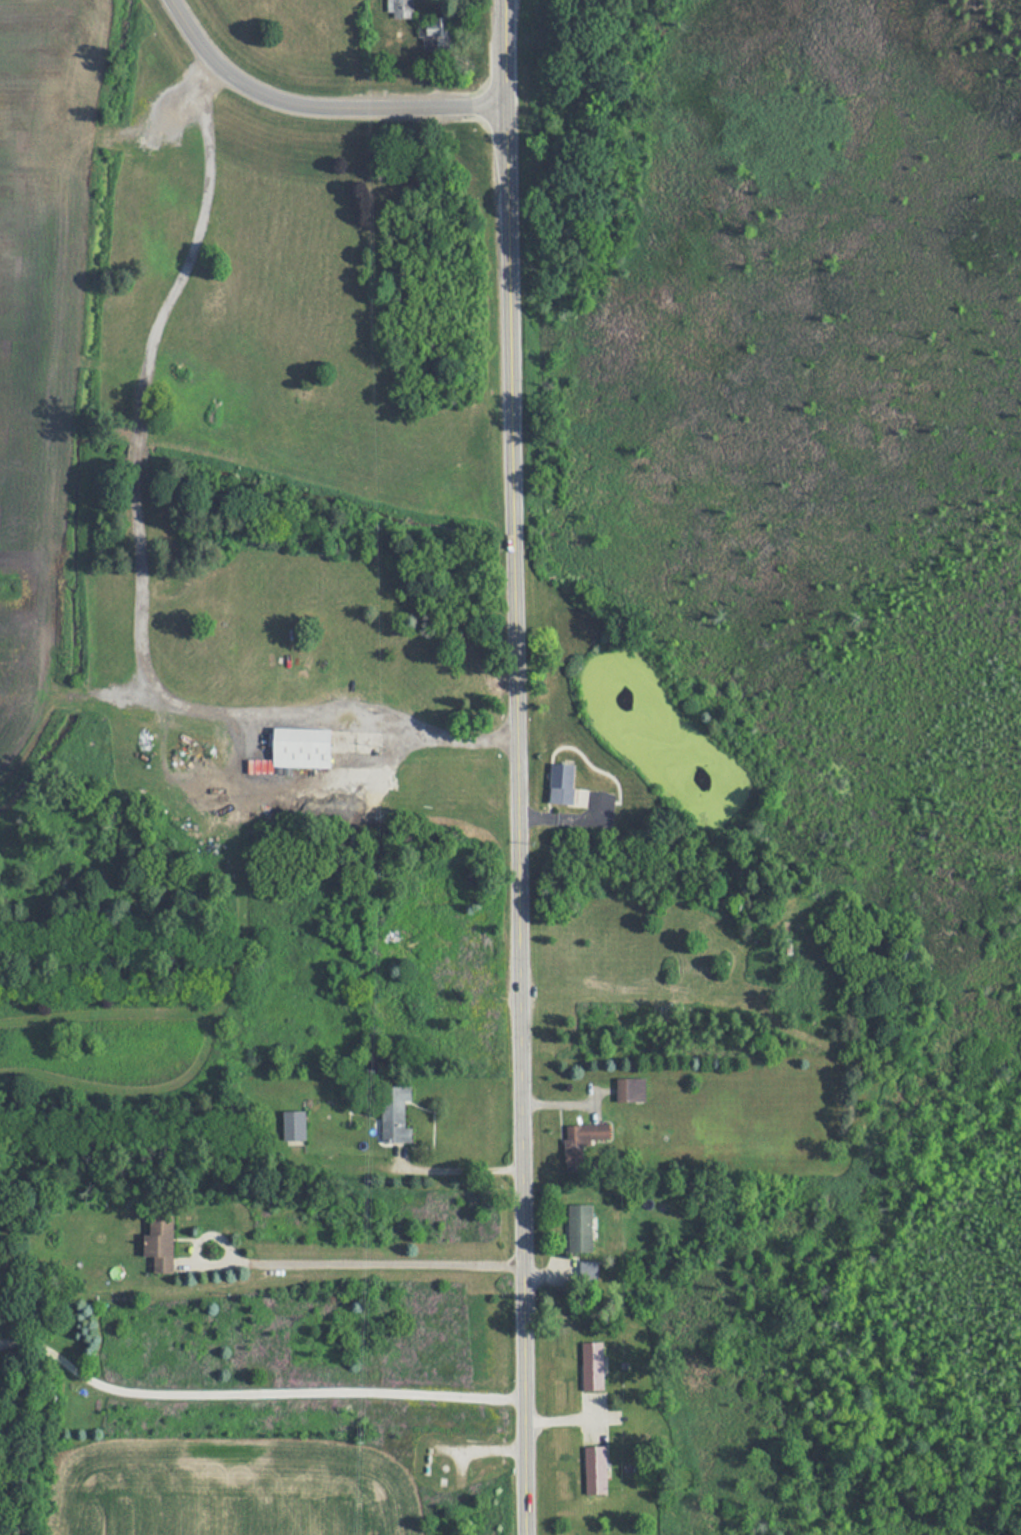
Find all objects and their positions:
building: (402, 8)
building: (436, 32)
road: (315, 105)
road: (145, 370)
road: (294, 713)
road: (482, 738)
building: (303, 748)
road: (518, 767)
building: (564, 784)
building: (632, 1090)
building: (396, 1114)
building: (295, 1127)
building: (583, 1142)
road: (459, 1172)
building: (581, 1229)
building: (161, 1243)
road: (365, 1265)
building: (593, 1365)
road: (253, 1393)
road: (561, 1418)
building: (596, 1468)

